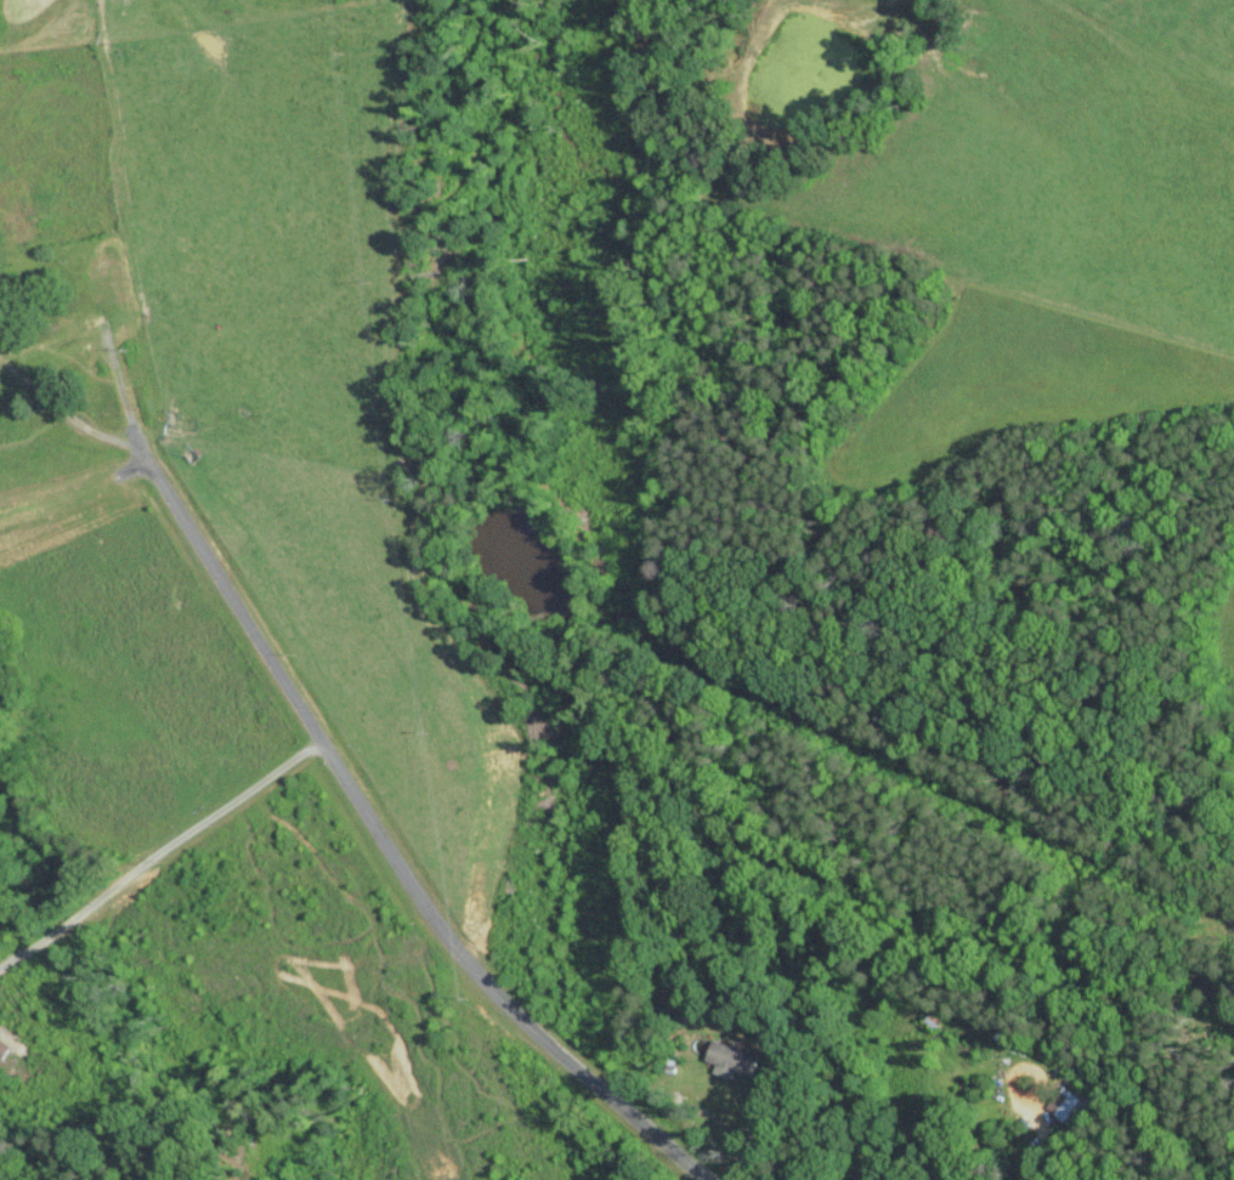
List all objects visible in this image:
road: (385, 846)
road: (159, 852)
building: (732, 1059)
building: (1070, 1106)
road: (758, 1131)
road: (685, 1172)
building: (859, 1179)

